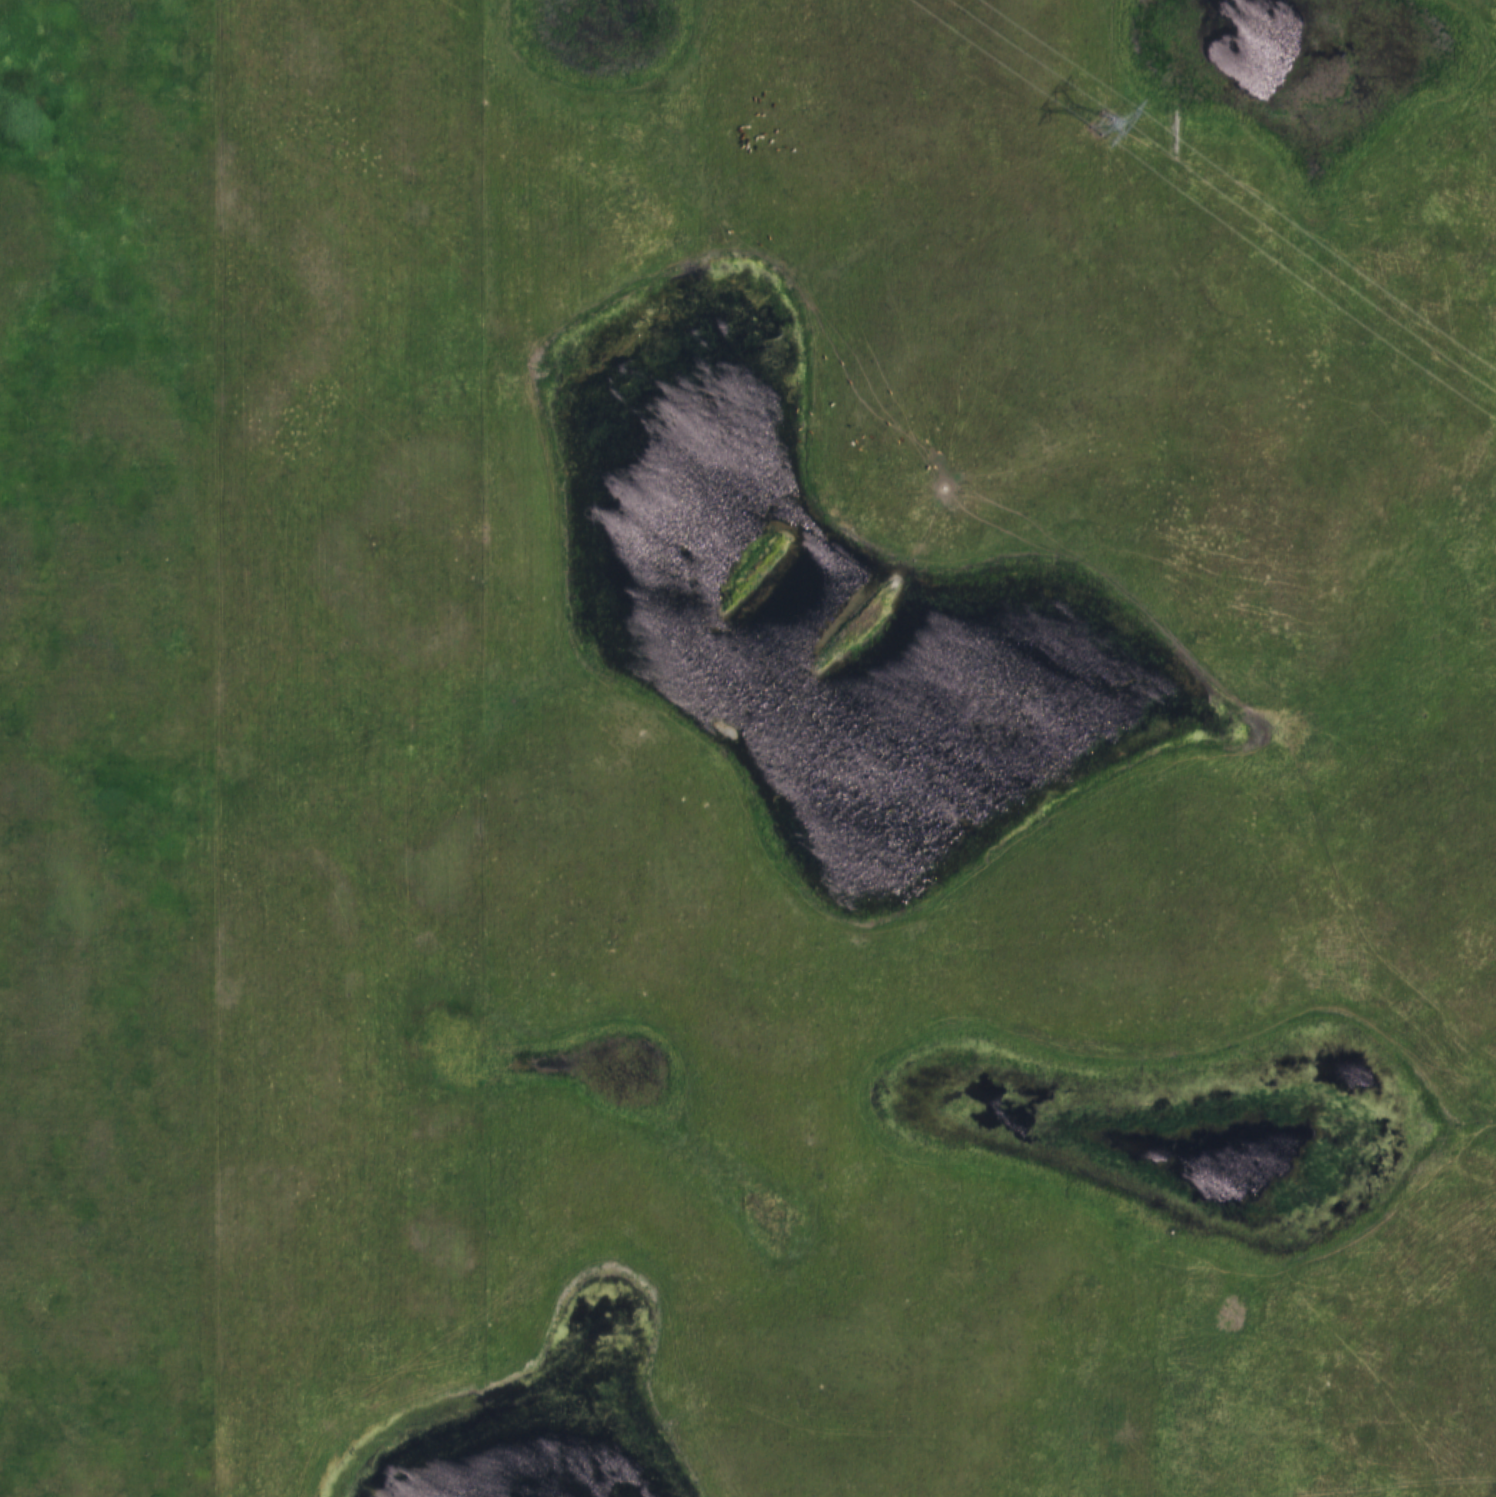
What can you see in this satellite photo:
power tower: (1099, 123)

